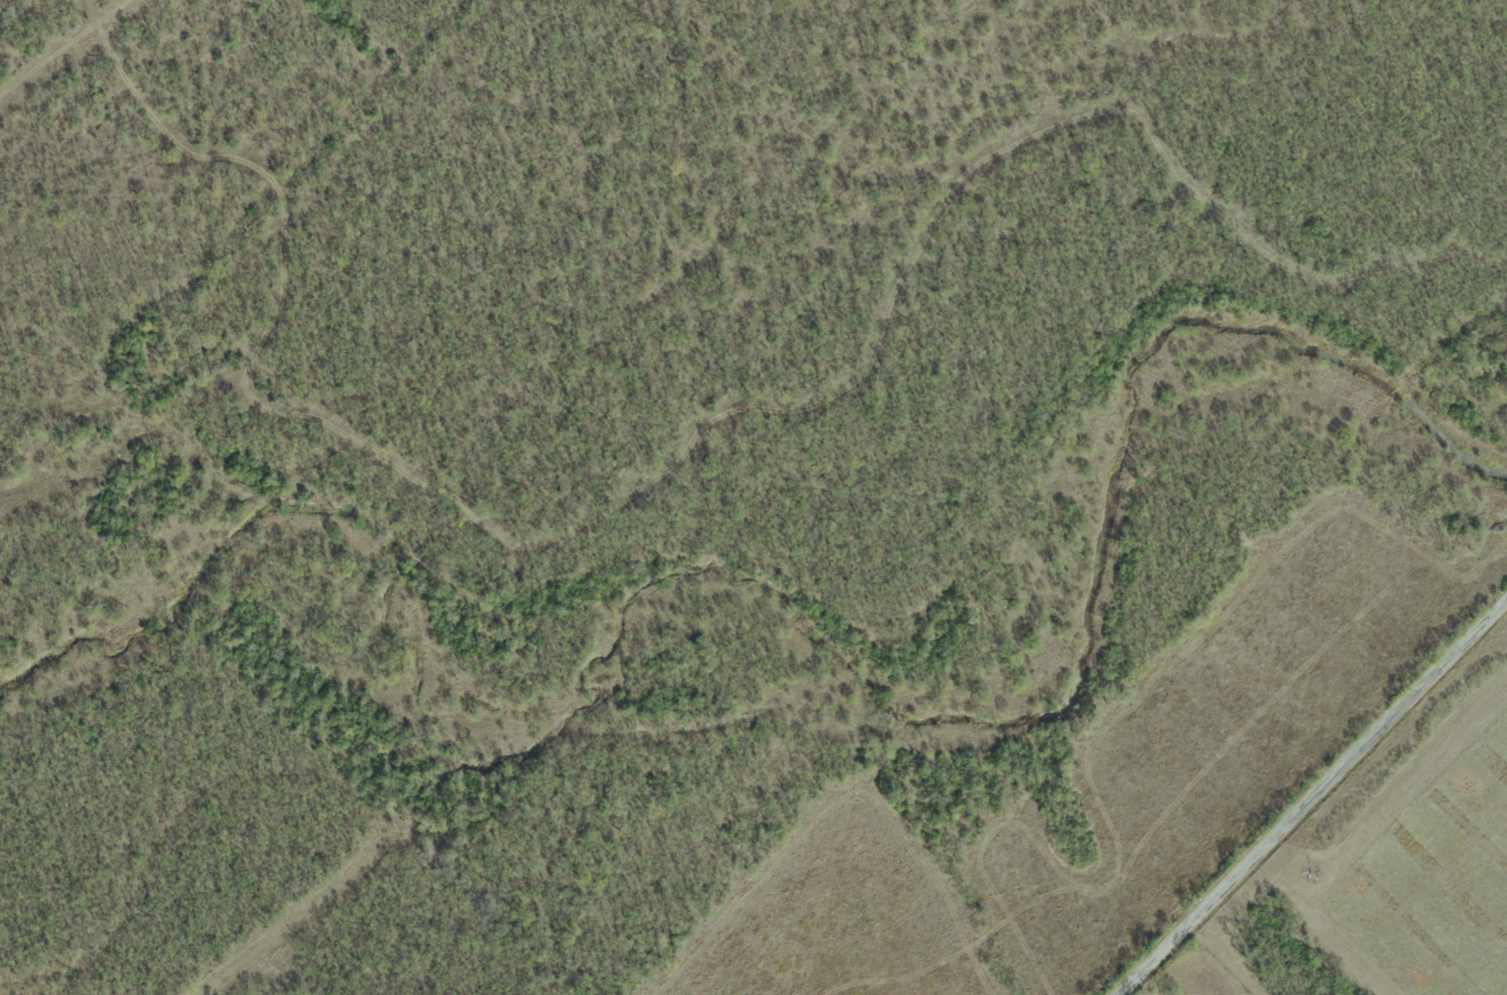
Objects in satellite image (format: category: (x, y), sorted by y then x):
road: (1311, 795)

